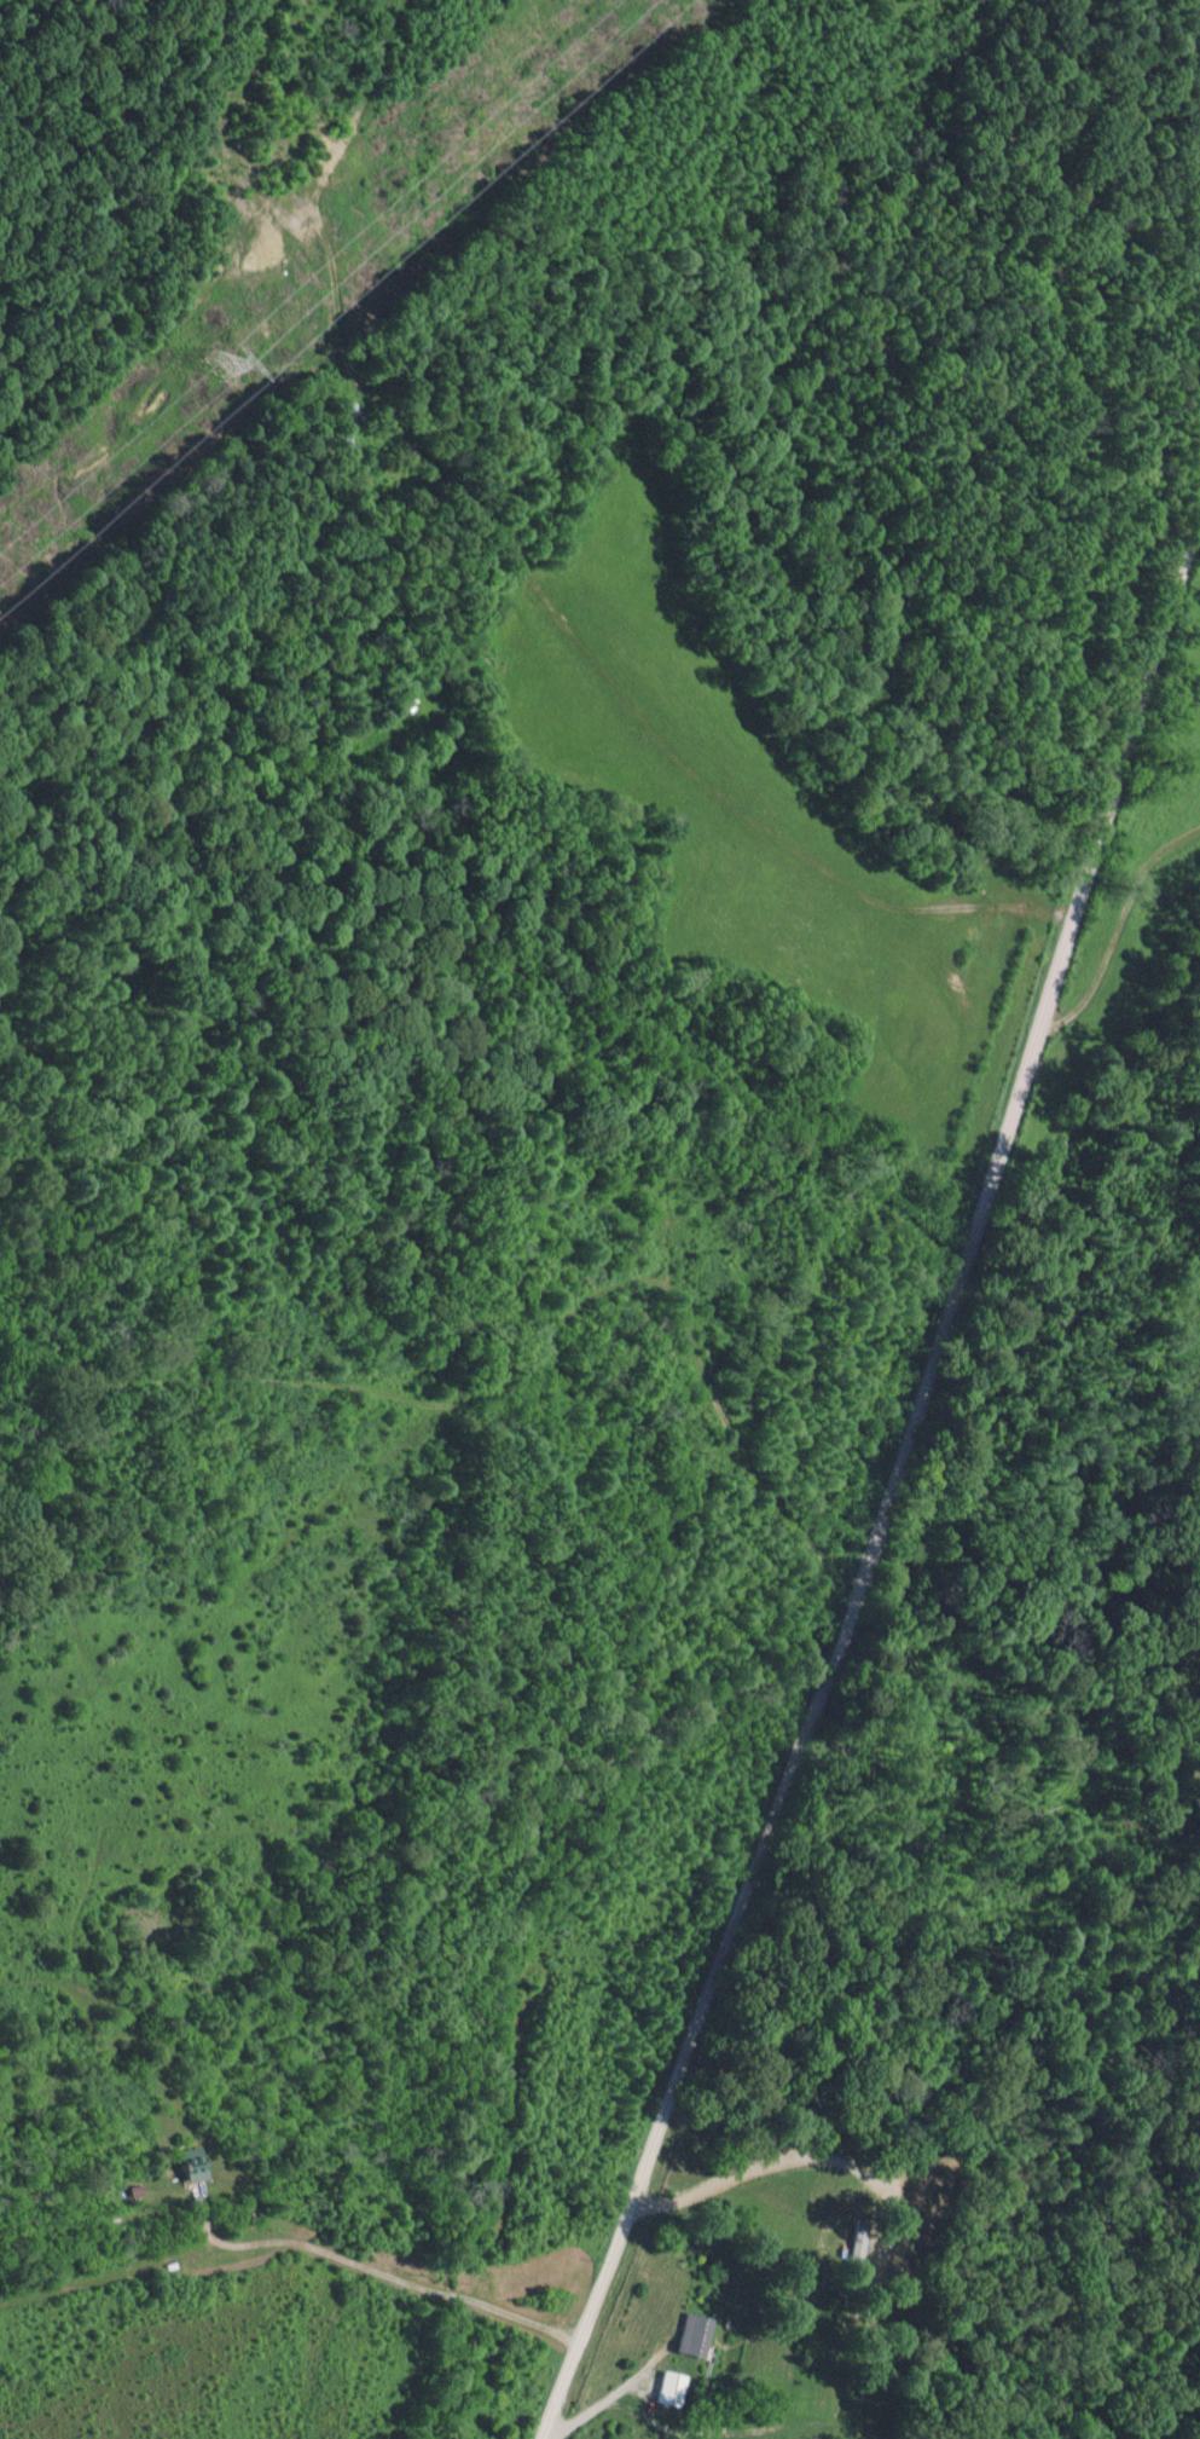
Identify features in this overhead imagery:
power tower: (220, 366)
road: (882, 1487)
building: (187, 2165)
building: (690, 2336)
building: (671, 2387)

